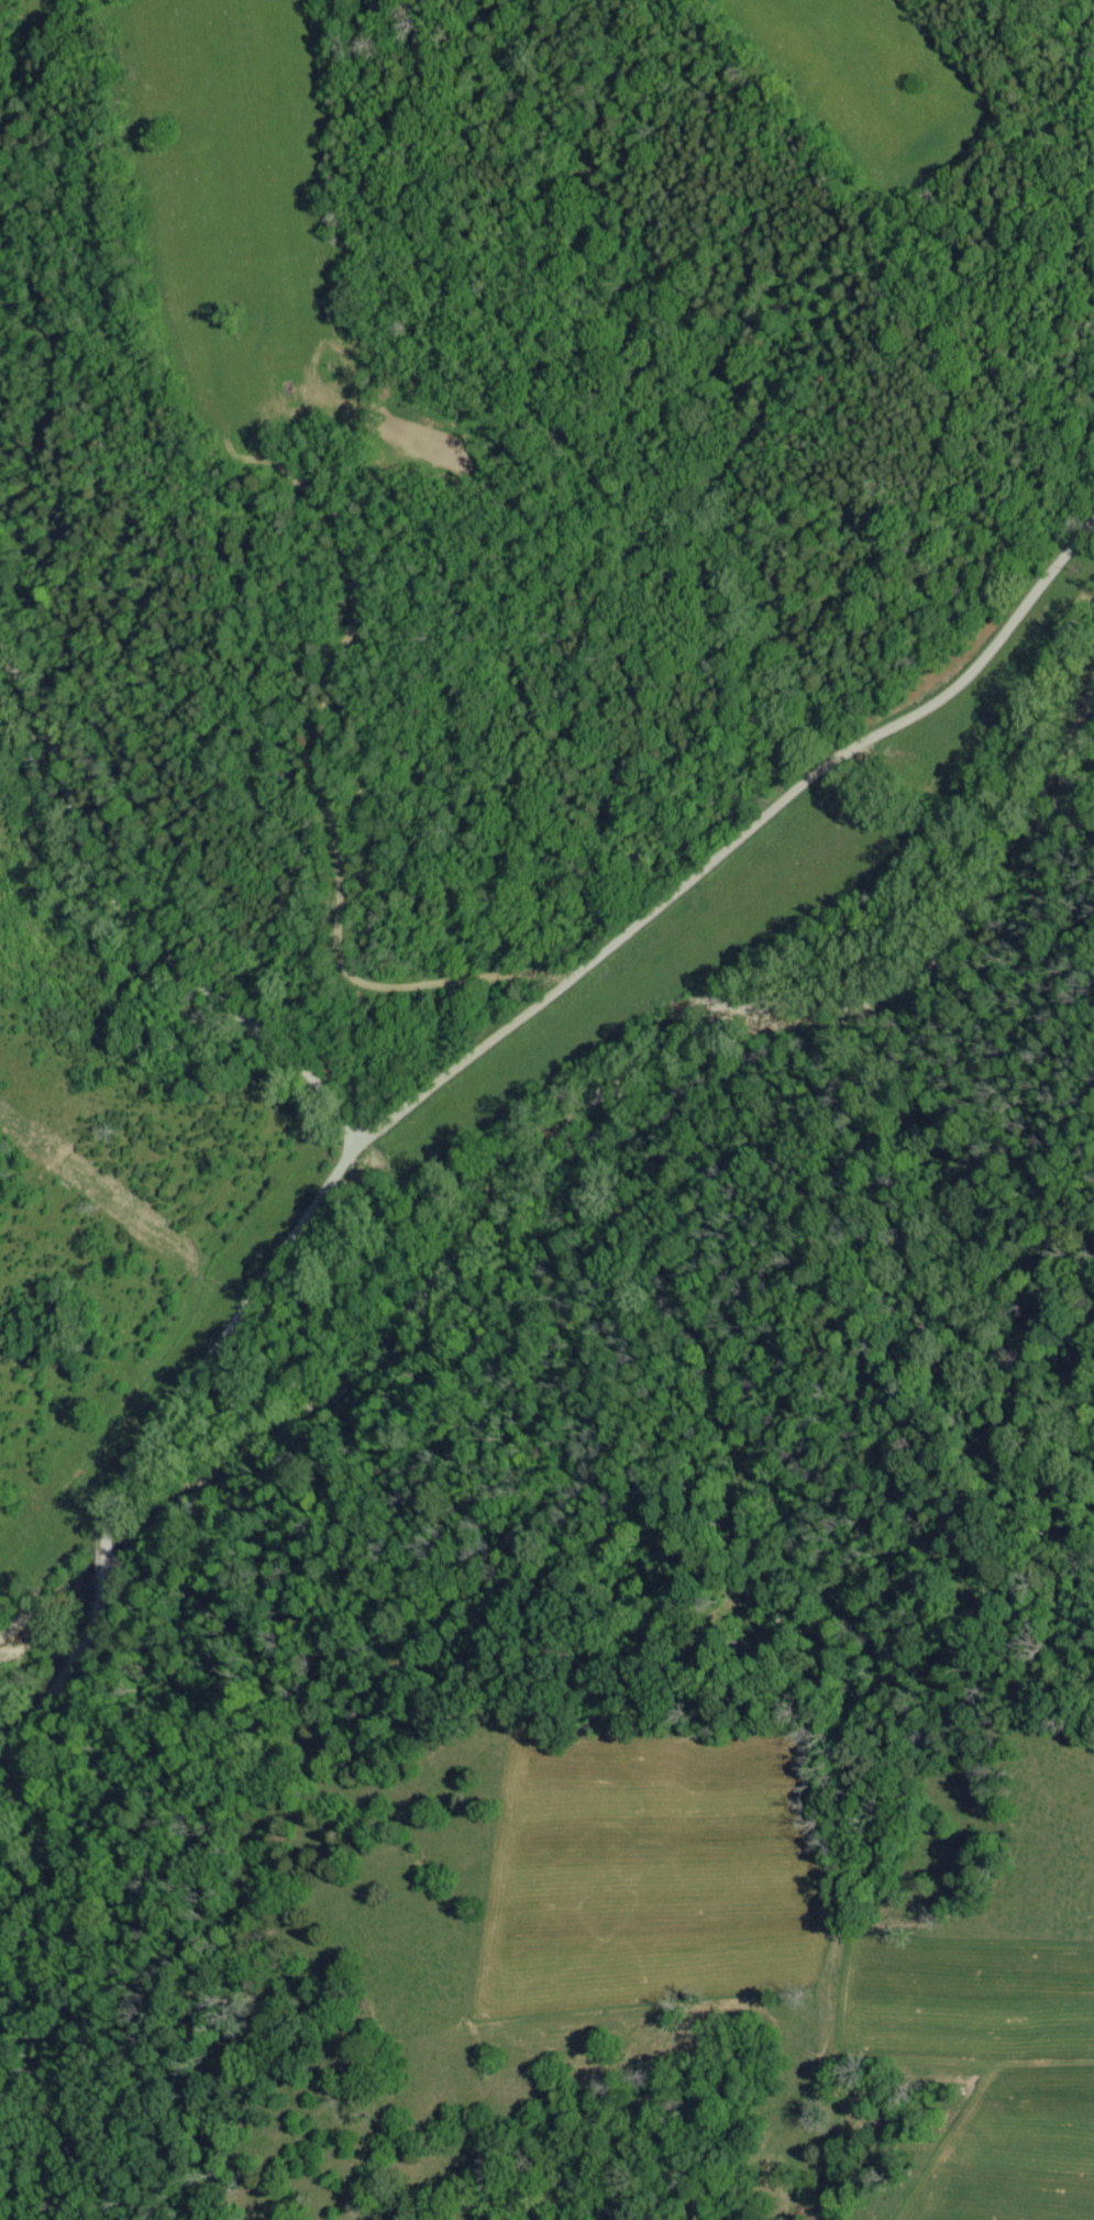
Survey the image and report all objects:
road: (139, 909)
road: (456, 1065)

